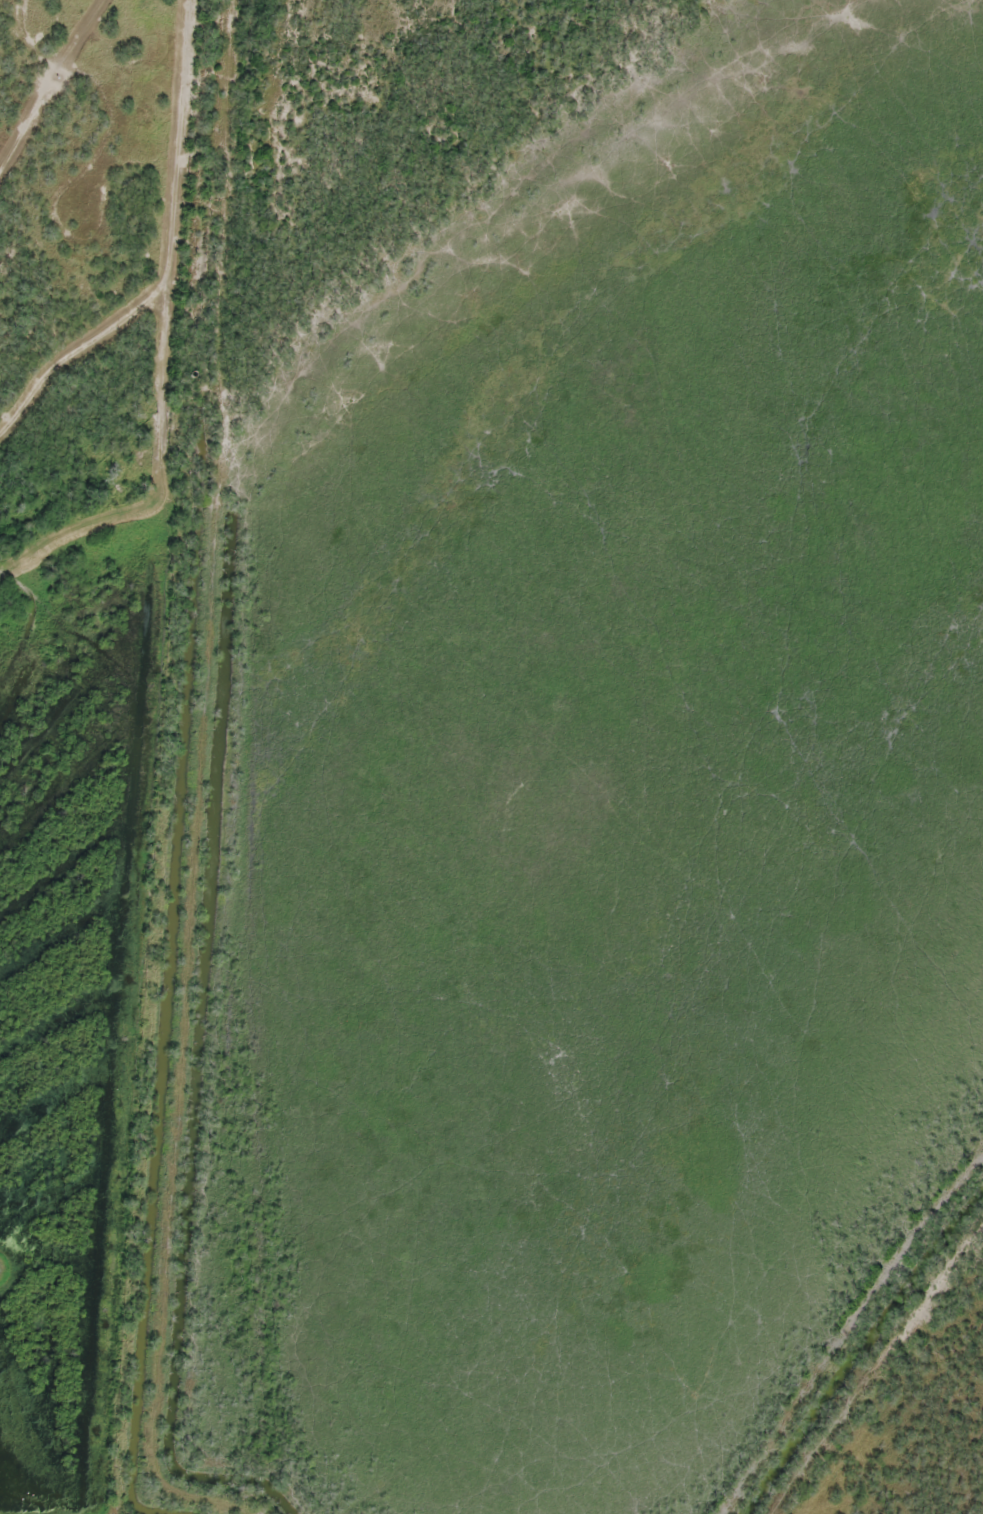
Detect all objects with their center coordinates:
road: (278, 200)
road: (178, 238)
road: (147, 904)

